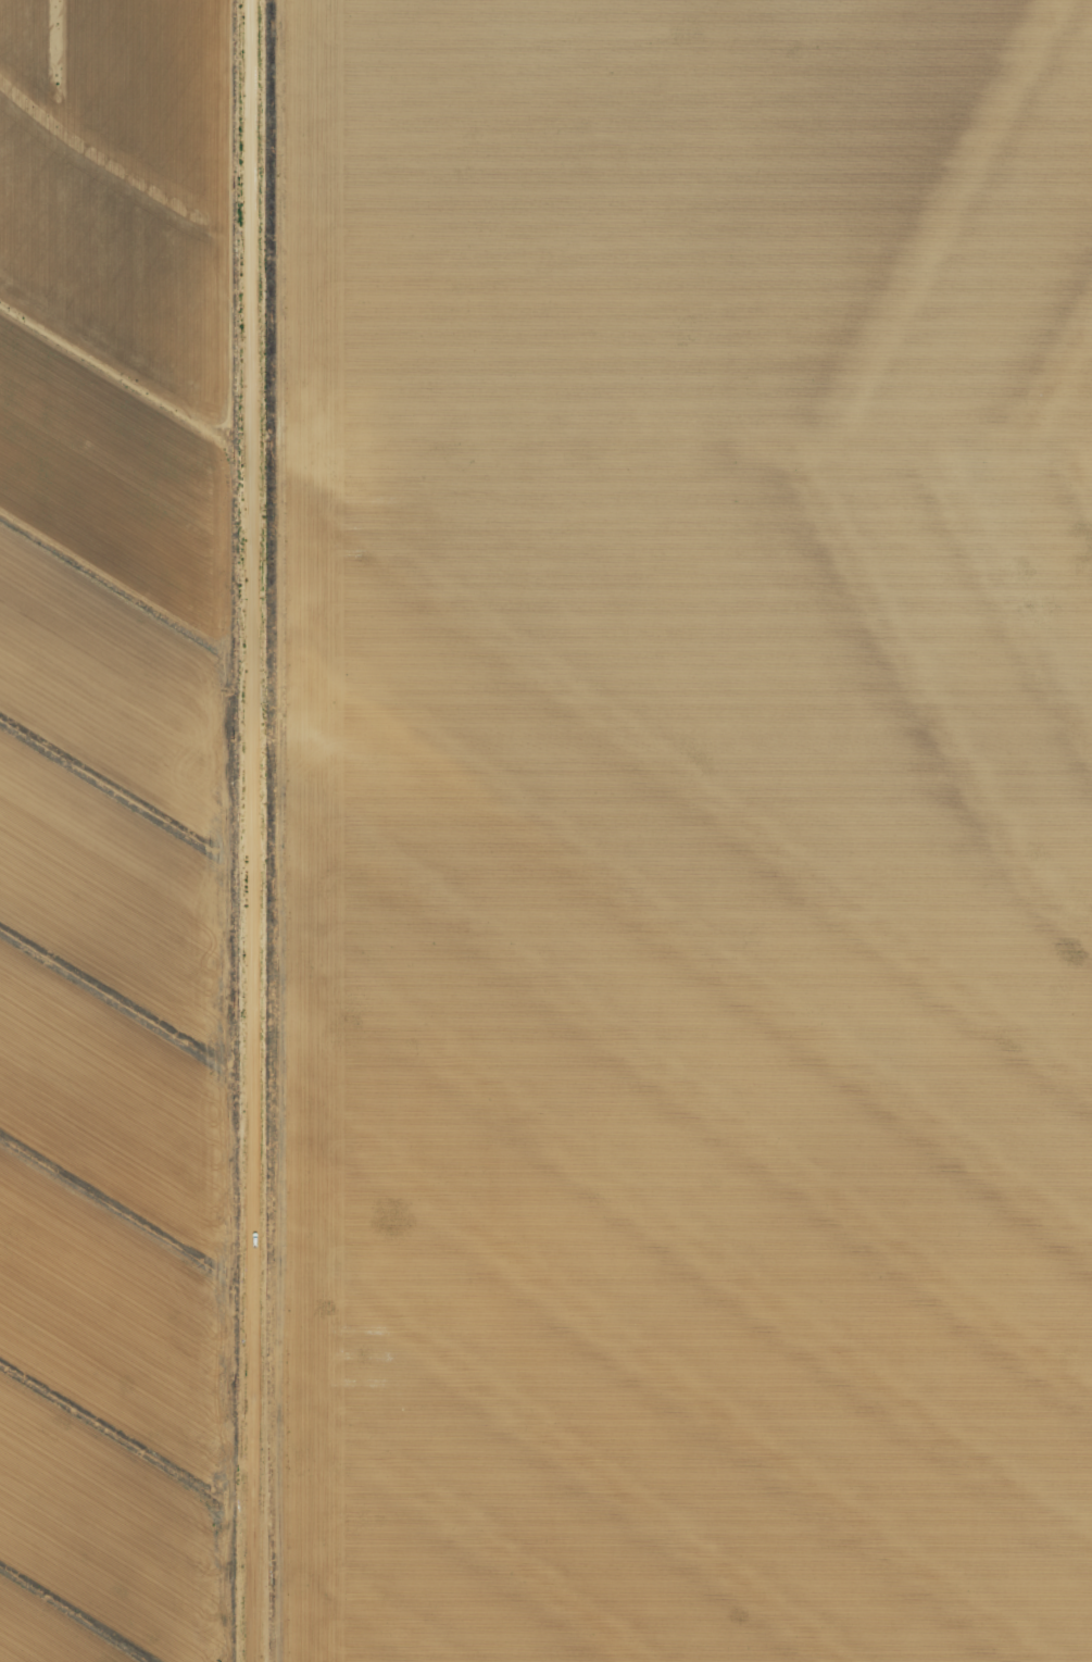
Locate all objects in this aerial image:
road: (254, 830)

